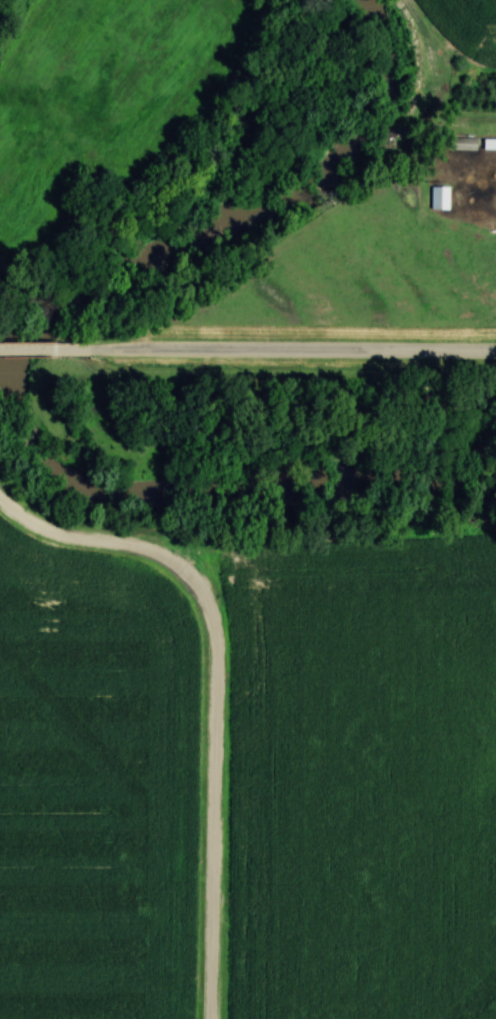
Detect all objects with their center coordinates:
building: (460, 144)
building: (487, 146)
building: (437, 197)
road: (48, 351)
road: (297, 352)
river: (29, 365)
road: (214, 688)
crop: (364, 783)

